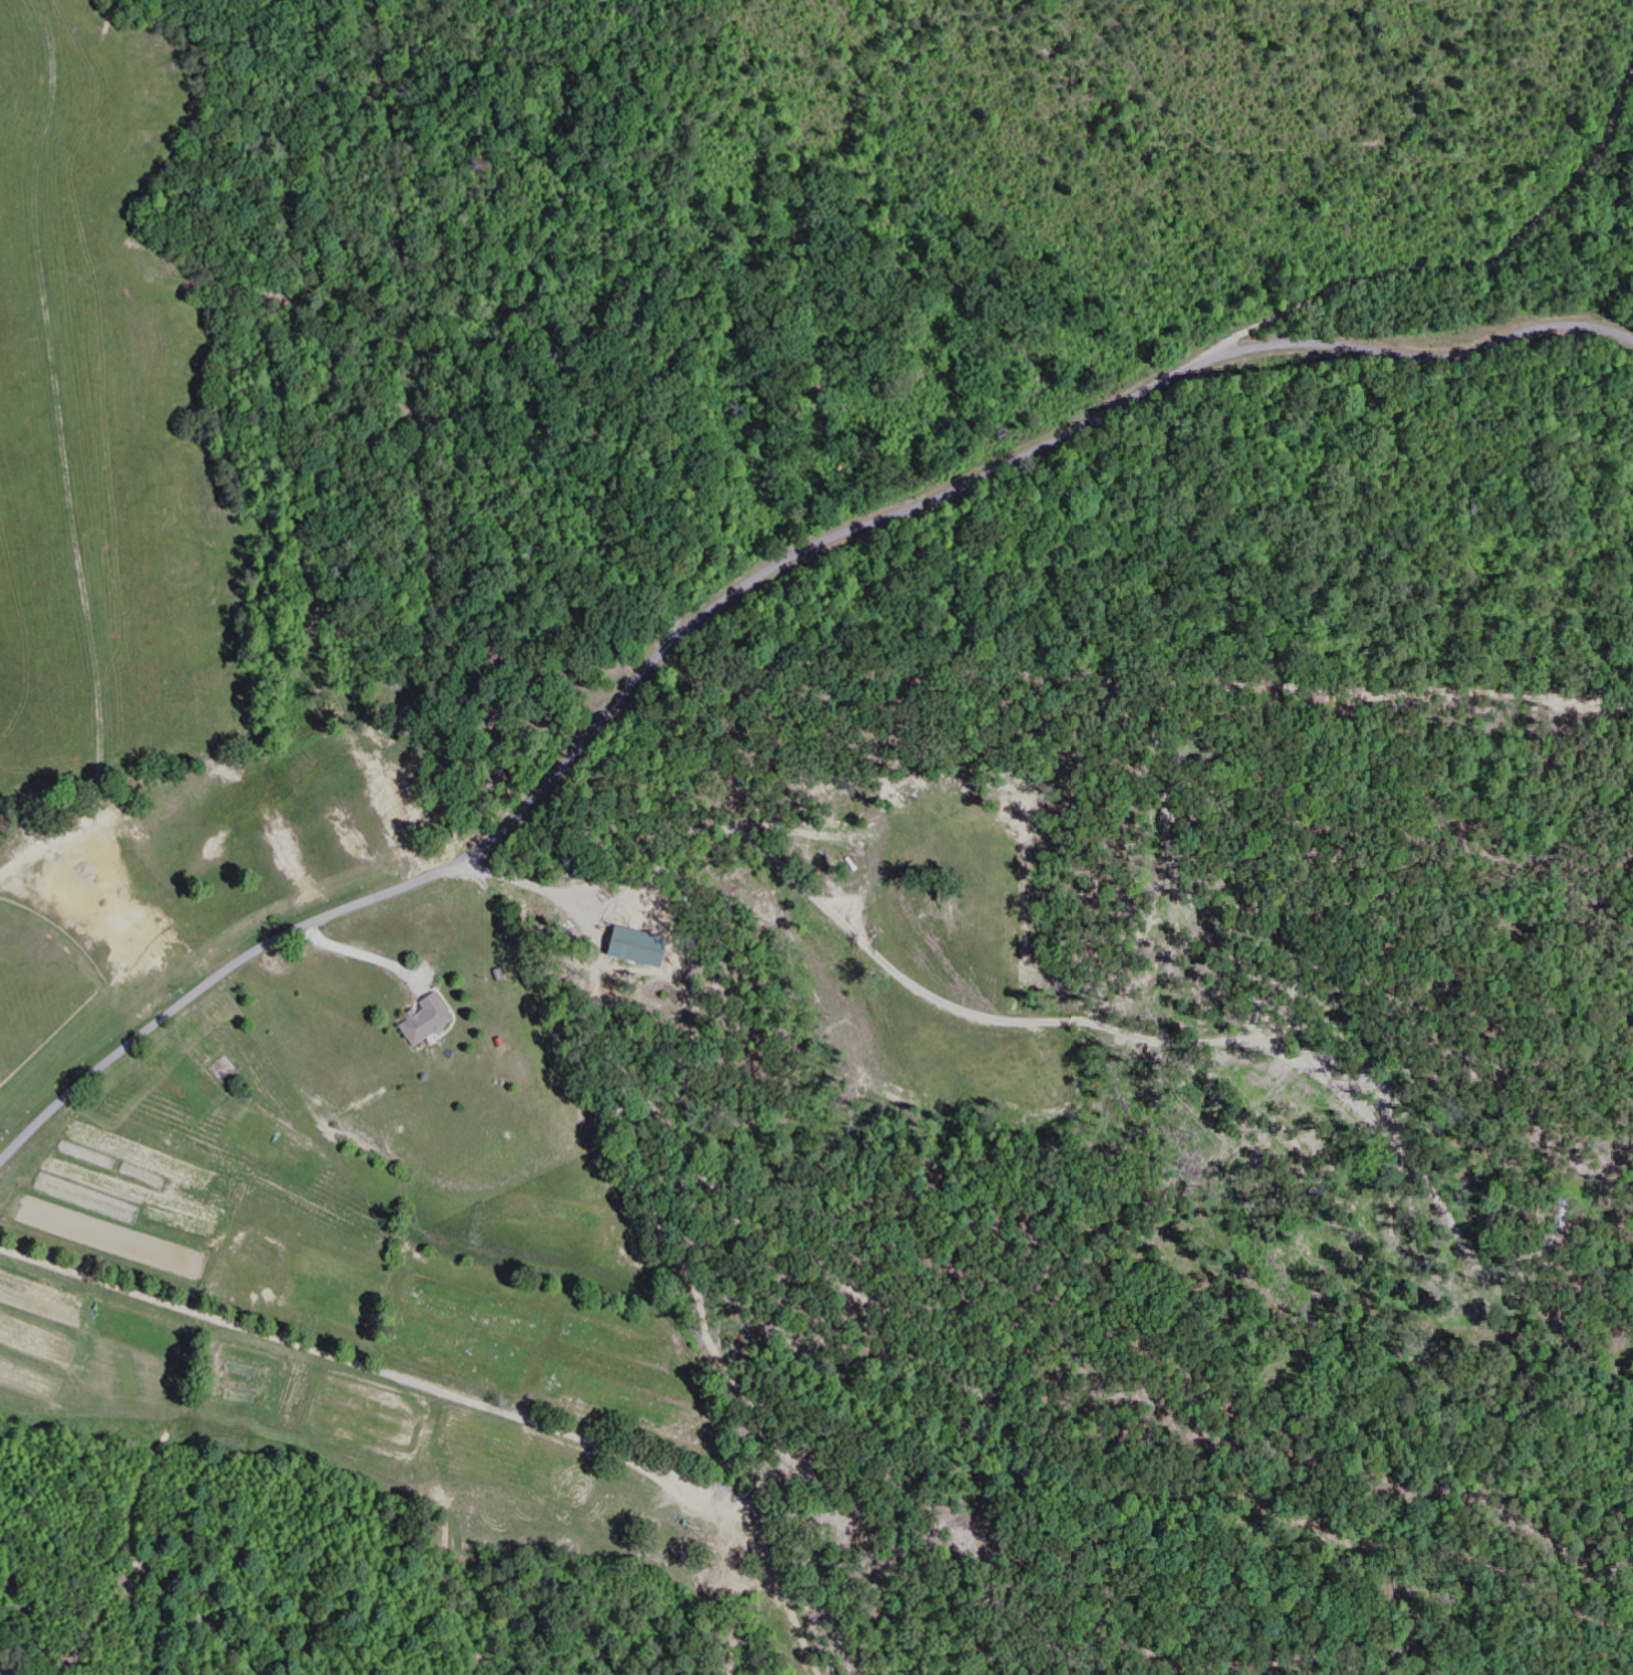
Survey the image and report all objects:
road: (1438, 266)
road: (602, 397)
road: (743, 585)
building: (649, 947)
building: (433, 1020)
road: (361, 1363)

